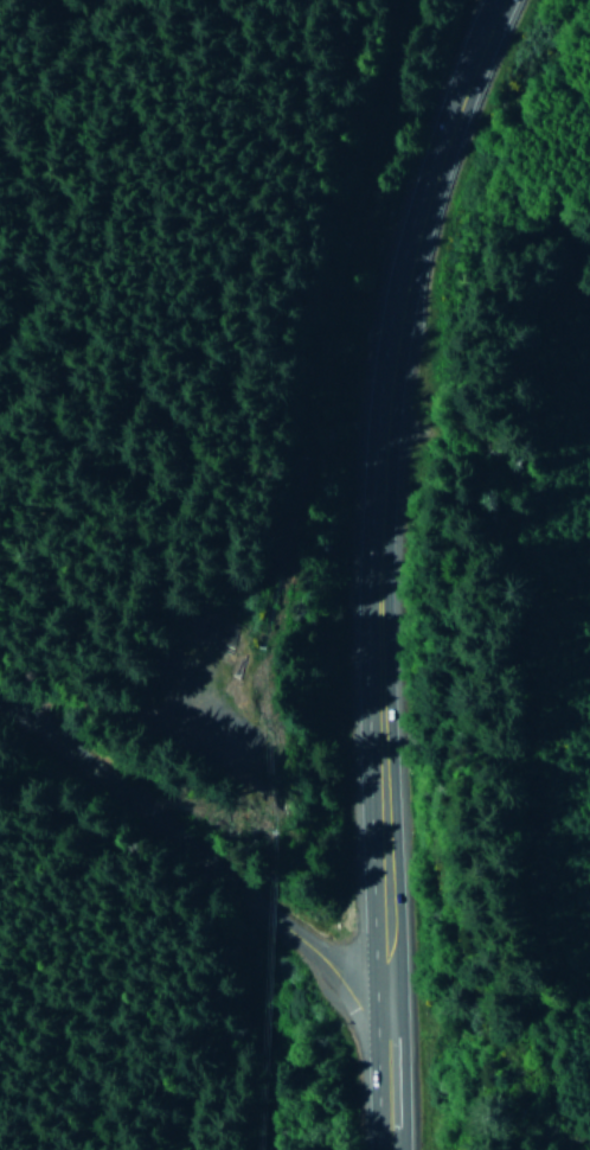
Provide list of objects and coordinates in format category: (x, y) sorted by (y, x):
road: (387, 481)
road: (179, 842)
road: (363, 1065)

